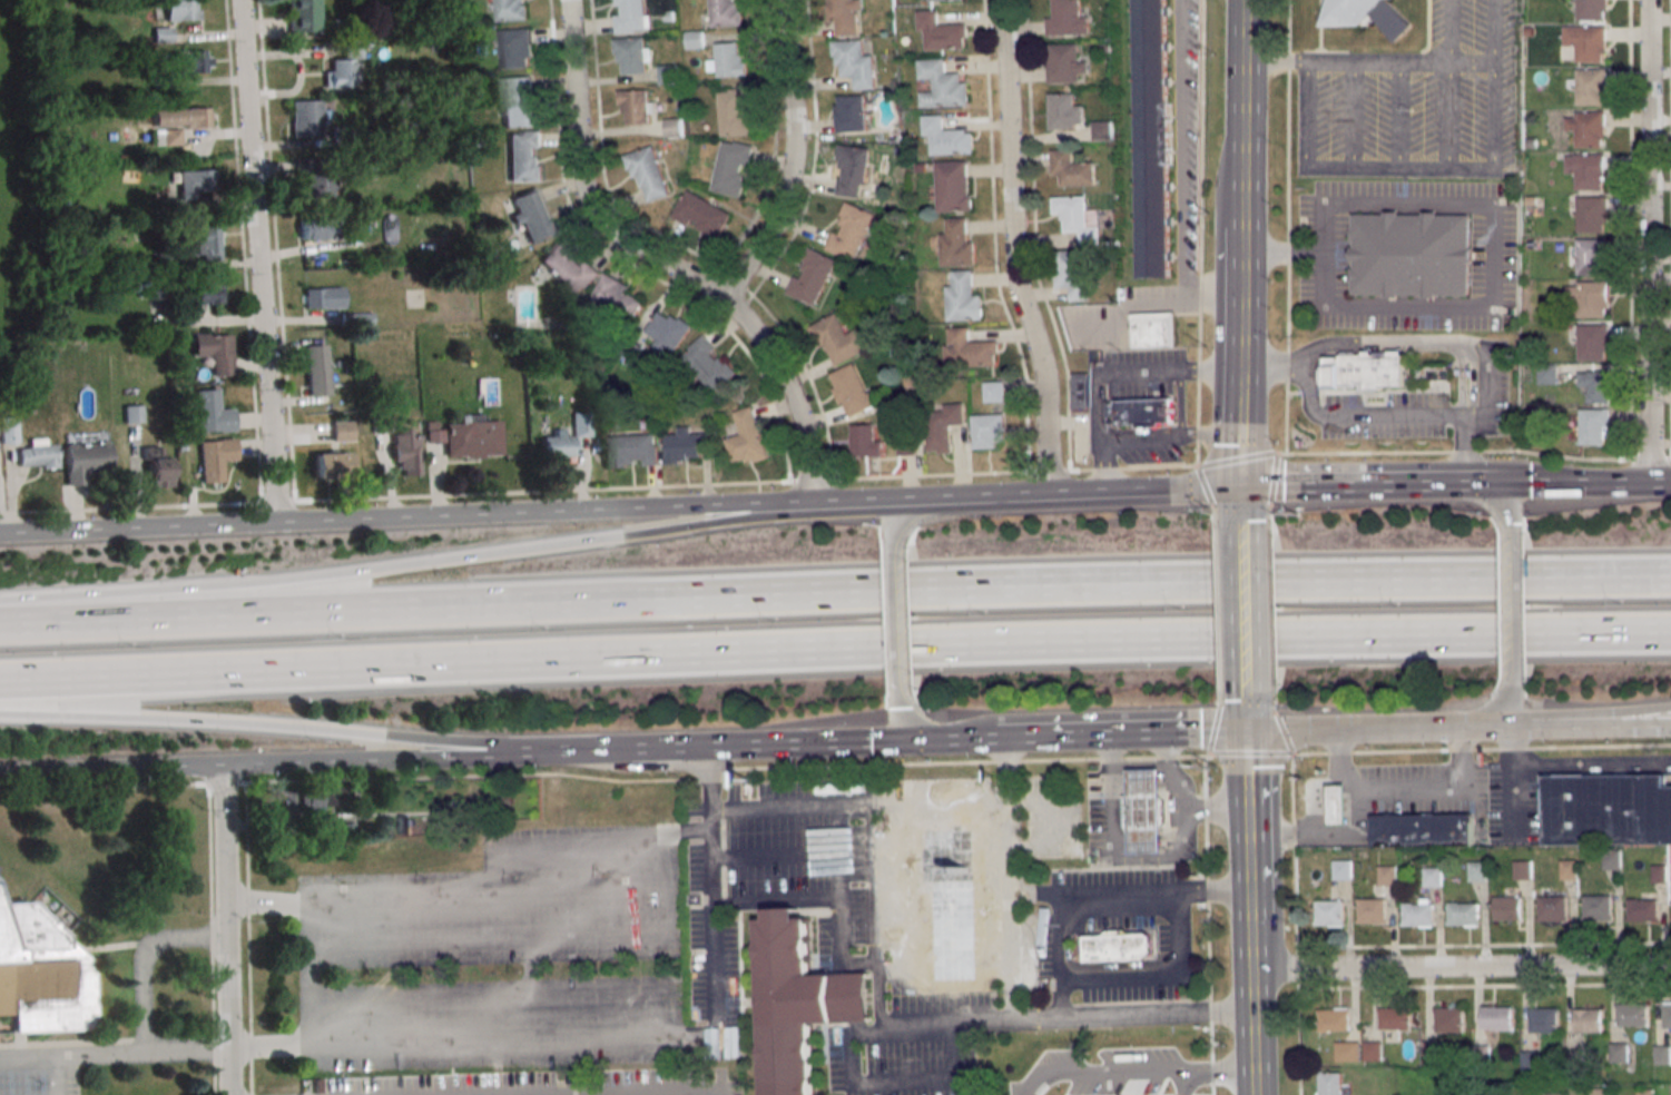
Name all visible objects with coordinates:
building: (940, 0)
building: (510, 9)
building: (1592, 9)
building: (179, 10)
building: (724, 13)
building: (1368, 14)
building: (301, 16)
building: (630, 16)
building: (669, 16)
building: (844, 16)
building: (1065, 19)
building: (370, 27)
building: (1110, 31)
building: (940, 32)
road: (1448, 32)
road: (1495, 32)
building: (161, 36)
building: (692, 39)
building: (1586, 42)
building: (514, 48)
building: (1103, 48)
building: (631, 55)
building: (188, 62)
building: (727, 62)
building: (854, 62)
building: (1062, 62)
road: (1369, 63)
building: (343, 66)
building: (666, 73)
building: (941, 85)
building: (1590, 86)
building: (517, 101)
building: (636, 105)
building: (733, 110)
building: (1062, 111)
building: (849, 112)
road: (1304, 114)
road: (1354, 114)
road: (1399, 115)
road: (1447, 116)
road: (1495, 116)
building: (181, 117)
building: (305, 118)
road: (1242, 124)
building: (671, 127)
building: (1586, 128)
building: (1100, 129)
building: (340, 136)
building: (944, 137)
building: (166, 138)
building: (1152, 138)
road: (1178, 150)
building: (523, 156)
road: (787, 158)
road: (770, 159)
road: (1398, 165)
road: (602, 168)
building: (729, 168)
building: (1070, 169)
building: (851, 170)
building: (1586, 170)
building: (646, 174)
building: (313, 176)
building: (195, 182)
road: (579, 184)
building: (952, 185)
road: (569, 203)
building: (170, 208)
building: (700, 214)
building: (1591, 214)
building: (531, 215)
building: (1077, 217)
road: (1492, 221)
building: (312, 228)
building: (849, 231)
road: (1031, 236)
road: (992, 237)
road: (1648, 241)
building: (206, 243)
building: (955, 244)
road: (1014, 249)
road: (244, 250)
road: (276, 250)
building: (1409, 253)
road: (780, 255)
building: (1591, 256)
building: (166, 260)
road: (257, 263)
building: (569, 266)
building: (1072, 274)
building: (809, 276)
building: (157, 289)
building: (206, 294)
building: (962, 296)
building: (323, 297)
building: (616, 297)
building: (1590, 298)
road: (1152, 303)
building: (357, 318)
building: (1153, 329)
building: (666, 332)
building: (838, 339)
road: (1404, 339)
road: (1241, 342)
building: (1593, 342)
building: (969, 348)
building: (214, 352)
road: (1316, 355)
building: (707, 364)
road: (1171, 368)
building: (1364, 368)
building: (315, 369)
building: (1546, 374)
road: (807, 379)
building: (910, 384)
building: (1595, 386)
building: (851, 389)
building: (1080, 389)
road: (787, 391)
building: (993, 391)
road: (1484, 396)
road: (1179, 402)
road: (1102, 405)
building: (212, 412)
building: (1142, 413)
building: (131, 414)
road: (1363, 417)
building: (380, 424)
building: (942, 425)
building: (1595, 426)
building: (987, 428)
building: (8, 430)
building: (341, 430)
road: (1211, 435)
building: (472, 437)
building: (746, 437)
road: (1142, 437)
building: (564, 440)
building: (865, 440)
building: (686, 445)
building: (907, 446)
building: (181, 447)
building: (404, 450)
building: (631, 450)
building: (38, 453)
building: (214, 457)
road: (1237, 458)
building: (85, 460)
road: (1240, 463)
building: (331, 465)
building: (158, 466)
road: (1102, 466)
road: (829, 479)
road: (1272, 479)
road: (1205, 484)
road: (1551, 484)
road: (1660, 484)
traffic signals: (1462, 485)
road: (1346, 487)
traffic signals: (1240, 491)
road: (1144, 493)
road: (1485, 500)
road: (986, 501)
road: (866, 505)
road: (1240, 506)
road: (541, 516)
road: (900, 522)
road: (136, 532)
road: (1269, 537)
road: (1216, 539)
road: (1512, 553)
road: (461, 556)
road: (1270, 589)
road: (1217, 590)
road: (1362, 599)
road: (896, 600)
road: (1241, 606)
road: (527, 619)
road: (1363, 635)
road: (1270, 637)
road: (1218, 638)
road: (1512, 638)
road: (528, 659)
road: (898, 677)
road: (1219, 685)
road: (1271, 687)
road: (1242, 716)
road: (1488, 716)
road: (1647, 718)
road: (248, 723)
road: (1647, 723)
road: (1539, 728)
road: (1213, 729)
road: (912, 730)
road: (1282, 730)
road: (1348, 736)
traffic signals: (1242, 740)
road: (1133, 742)
road: (981, 746)
traffic signals: (936, 748)
road: (715, 749)
road: (1170, 753)
road: (1206, 756)
road: (1250, 756)
road: (360, 760)
road: (1579, 762)
road: (1338, 766)
road: (111, 769)
road: (1244, 775)
road: (1176, 778)
road: (602, 780)
road: (1356, 791)
building: (1336, 803)
road: (934, 805)
building: (1608, 809)
building: (1144, 810)
road: (1245, 825)
building: (1422, 829)
road: (1120, 856)
road: (775, 857)
road: (1247, 864)
building: (1343, 869)
building: (1522, 869)
building: (1567, 869)
building: (1477, 871)
building: (1387, 875)
building: (1432, 877)
road: (1128, 889)
building: (943, 892)
road: (540, 894)
road: (712, 897)
road: (776, 902)
road: (839, 902)
building: (1552, 907)
building: (1598, 907)
building: (1507, 908)
building: (1642, 909)
building: (1372, 910)
building: (1329, 912)
building: (1417, 912)
building: (1462, 914)
road: (1208, 925)
road: (225, 930)
road: (210, 939)
road: (248, 939)
building: (1118, 947)
road: (1061, 954)
road: (875, 956)
road: (145, 958)
road: (1461, 971)
building: (42, 974)
road: (1163, 976)
road: (317, 978)
road: (1250, 992)
road: (1013, 999)
building: (800, 1002)
building: (1632, 1015)
building: (1667, 1015)
building: (1496, 1017)
building: (1394, 1018)
building: (1334, 1019)
building: (1448, 1019)
building: (1543, 1019)
building: (1589, 1019)
road: (518, 1040)
building: (1347, 1050)
building: (1372, 1050)
road: (856, 1053)
building: (1620, 1053)
building: (1662, 1054)
road: (114, 1055)
building: (1529, 1057)
road: (1216, 1069)
road: (1098, 1071)
road: (56, 1076)
road: (1179, 1082)
building: (1329, 1083)
building: (1067, 1089)
road: (639, 1092)
building: (1599, 1092)
building: (1644, 1092)
building: (1552, 1093)

